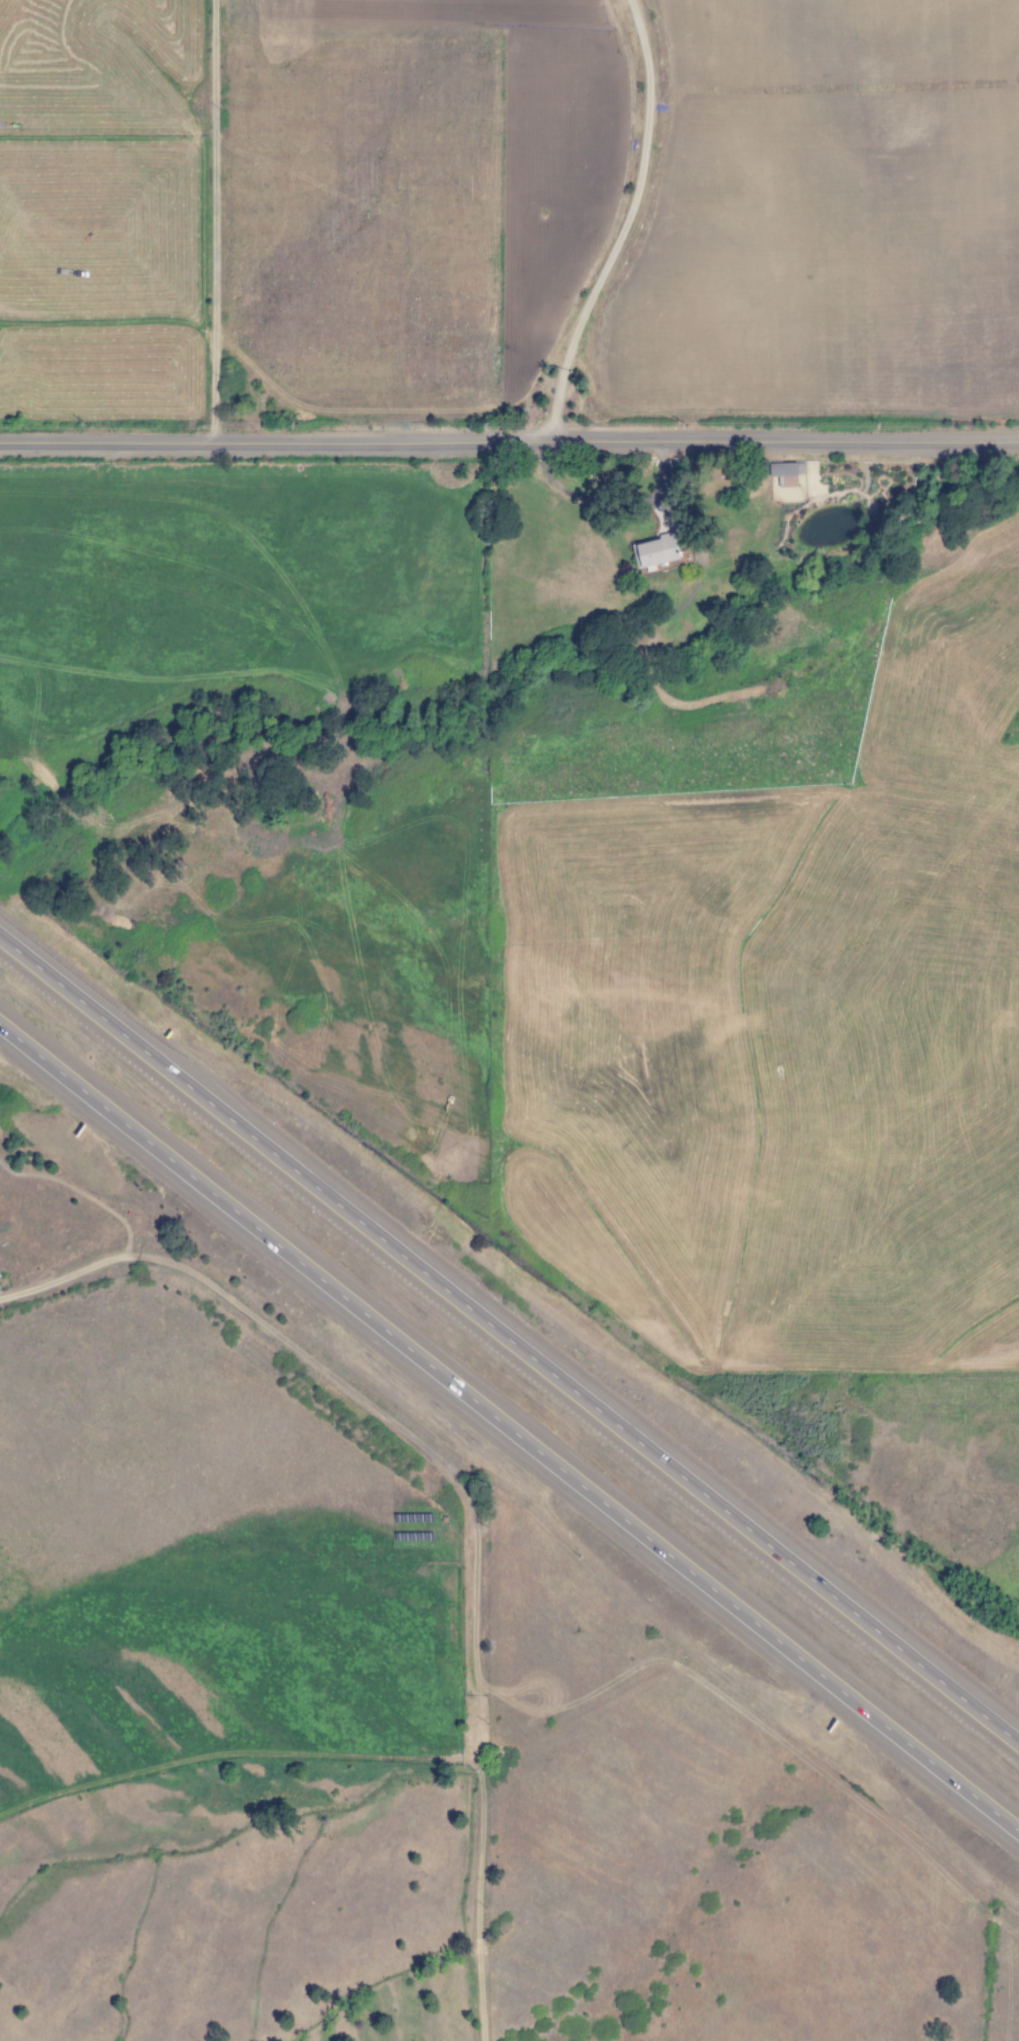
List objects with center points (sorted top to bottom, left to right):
crop: (747, 211)
road: (218, 222)
road: (625, 225)
road: (509, 443)
building: (788, 474)
building: (656, 552)
road: (73, 1275)
road: (510, 1340)
road: (327, 1372)
road: (509, 1427)
road: (479, 1782)

